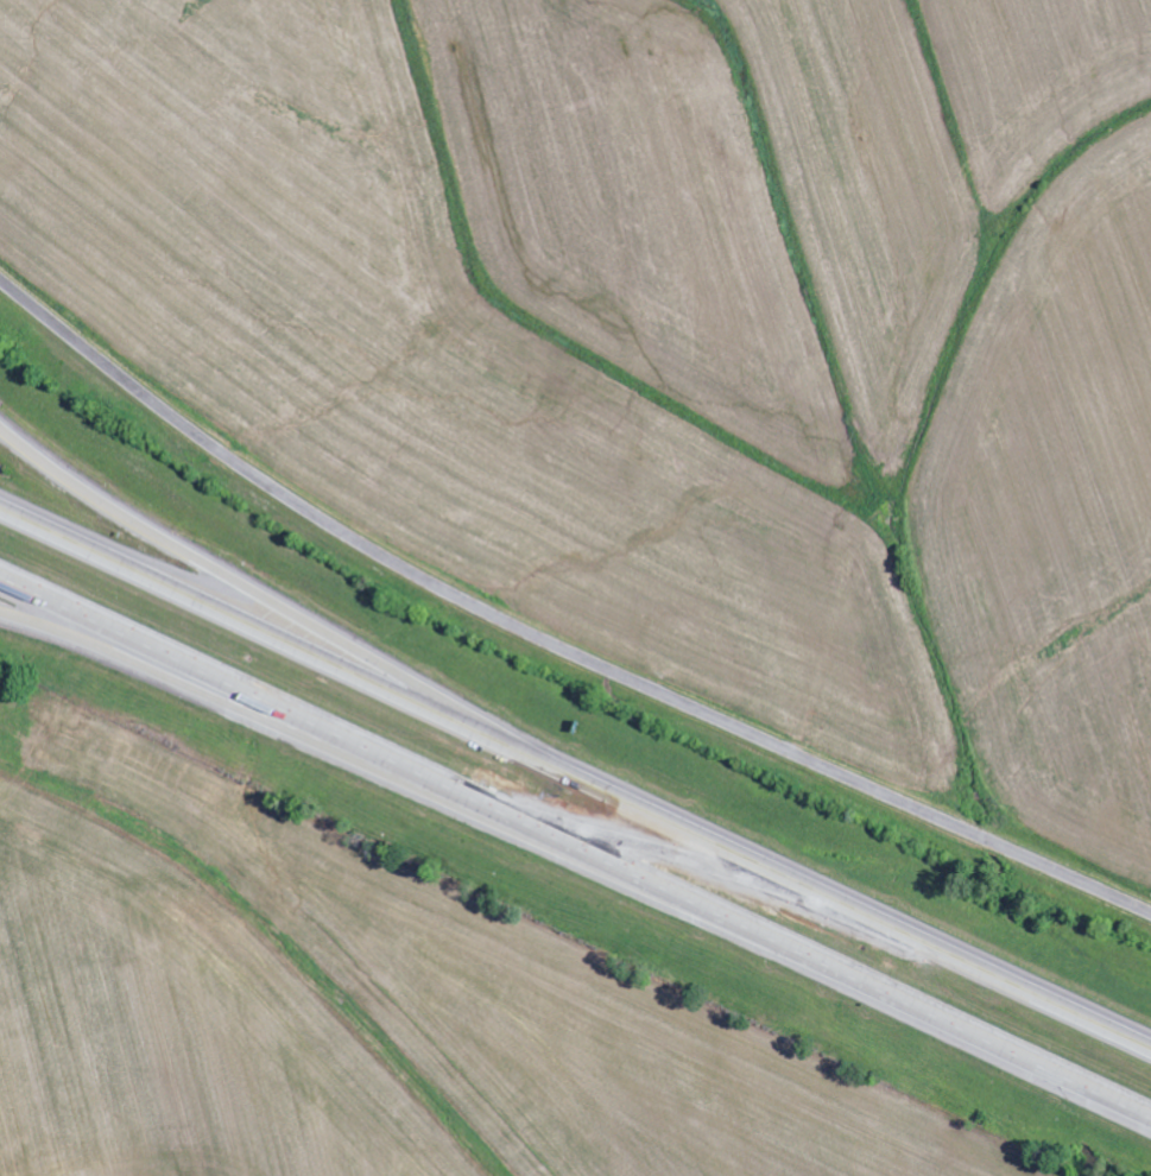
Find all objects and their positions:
road: (245, 589)
road: (549, 644)
road: (259, 715)
road: (575, 779)
road: (575, 849)

